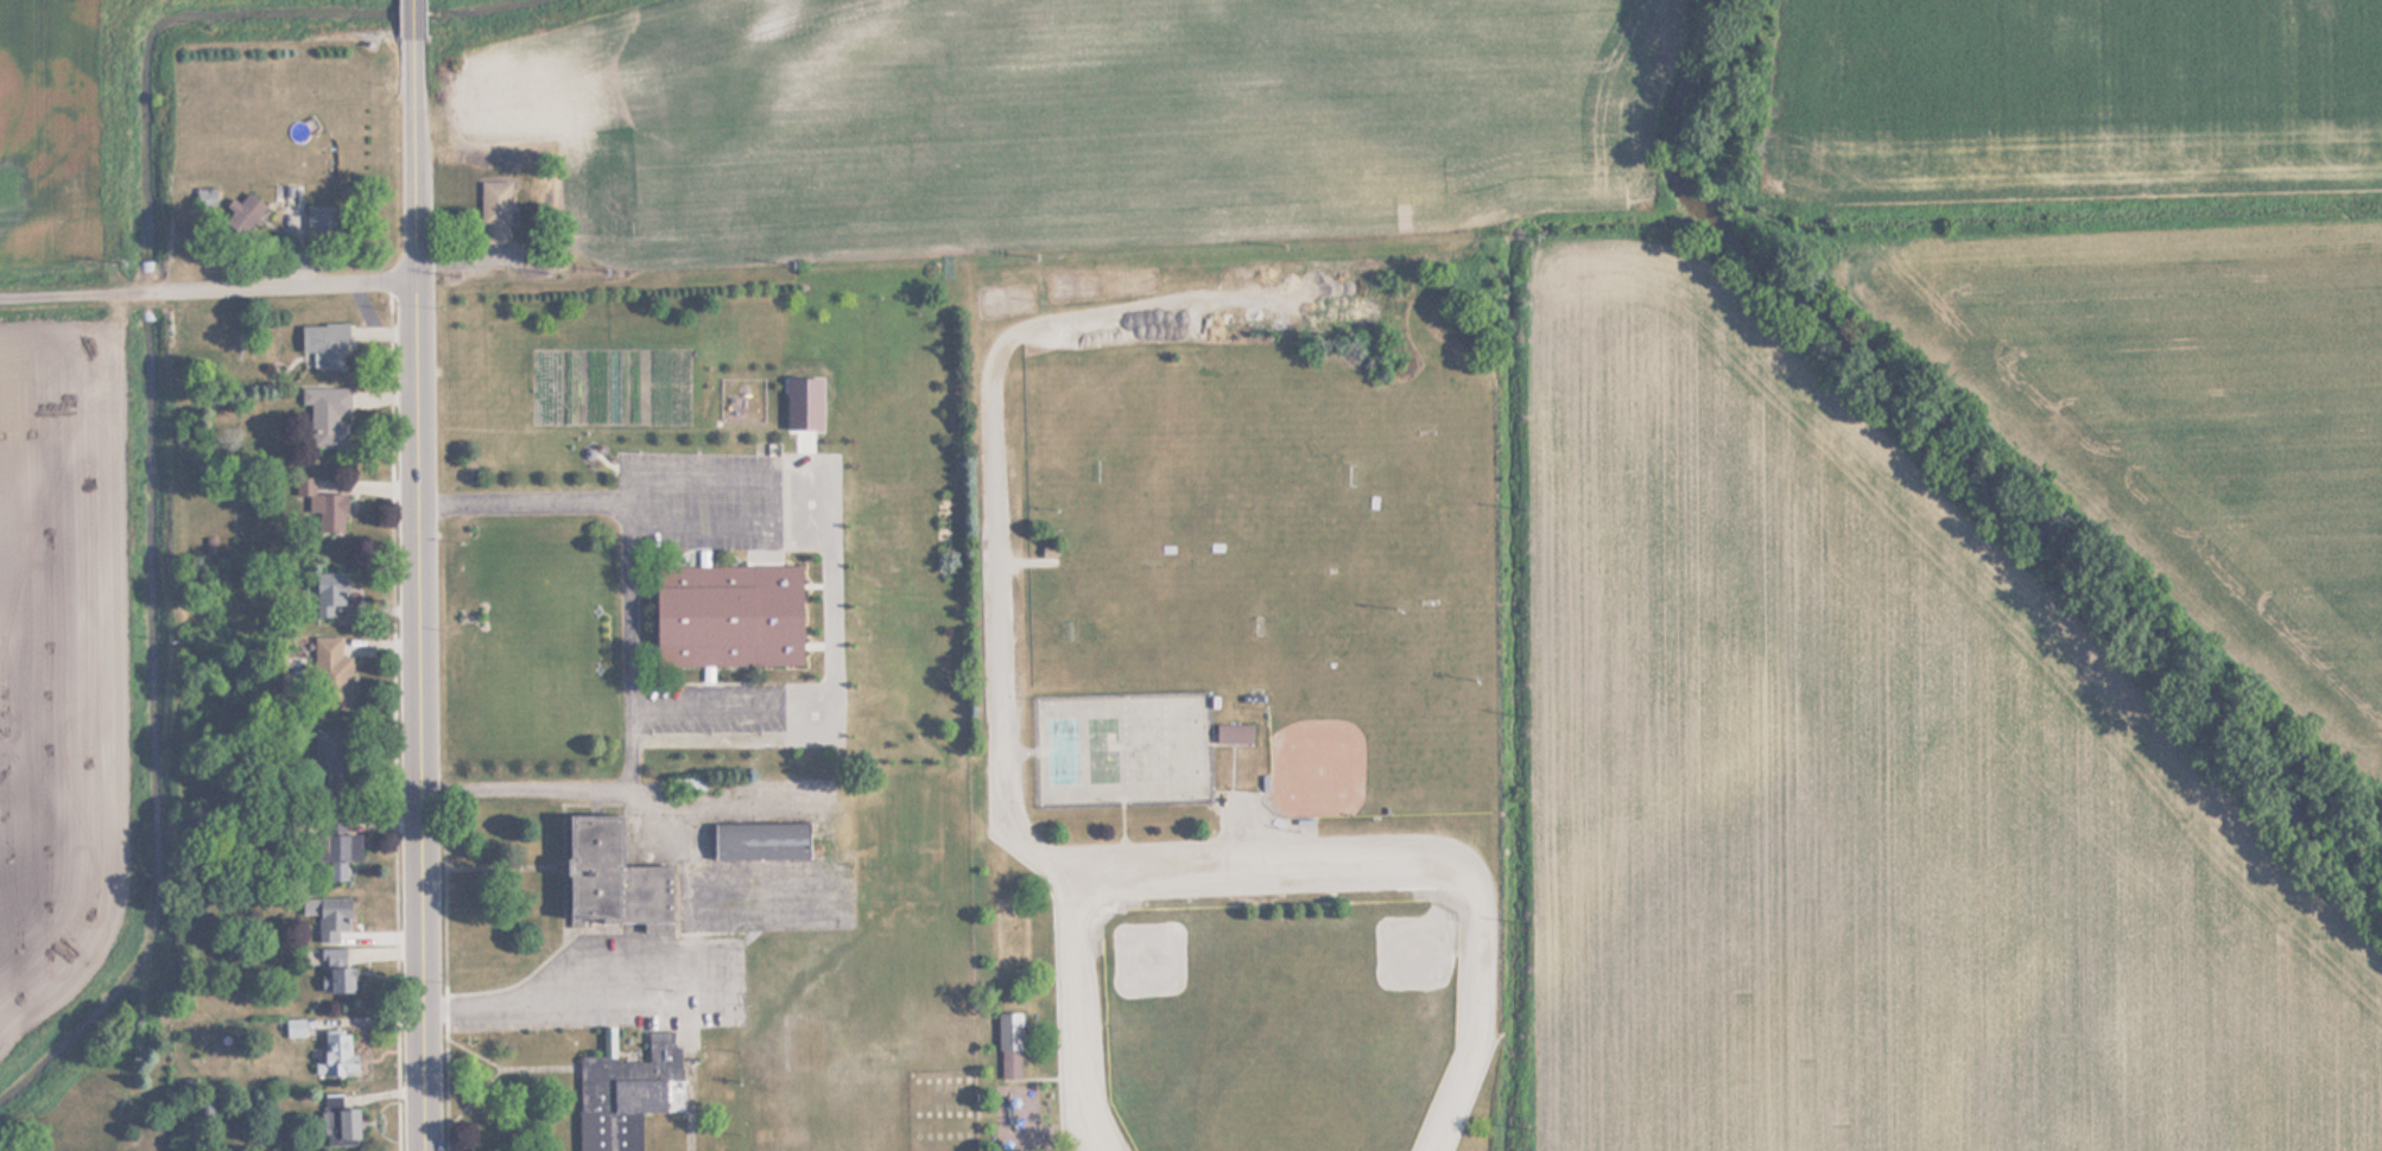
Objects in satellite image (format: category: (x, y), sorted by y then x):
road: (417, 139)
building: (205, 197)
building: (242, 211)
building: (494, 211)
building: (319, 221)
road: (208, 291)
building: (324, 343)
building: (327, 415)
road: (997, 434)
park: (1227, 471)
road: (701, 500)
building: (319, 501)
road: (522, 502)
park: (1423, 519)
road: (701, 527)
road: (704, 553)
road: (778, 578)
road: (639, 585)
building: (328, 592)
building: (703, 616)
park: (1152, 628)
road: (772, 634)
road: (709, 673)
building: (337, 681)
road: (708, 694)
road: (401, 716)
road: (420, 716)
park: (1168, 721)
building: (1234, 733)
park: (1343, 736)
road: (631, 746)
park: (1122, 749)
building: (329, 751)
road: (772, 790)
road: (1238, 806)
building: (759, 839)
building: (335, 854)
road: (1284, 864)
building: (608, 877)
road: (758, 892)
road: (1280, 902)
building: (328, 916)
road: (451, 969)
building: (335, 971)
park: (1385, 983)
park: (1185, 986)
road: (680, 1003)
road: (1088, 1015)
road: (1476, 1025)
building: (1008, 1045)
building: (337, 1055)
building: (626, 1095)
building: (203, 1105)
building: (338, 1120)
park: (1279, 1120)

